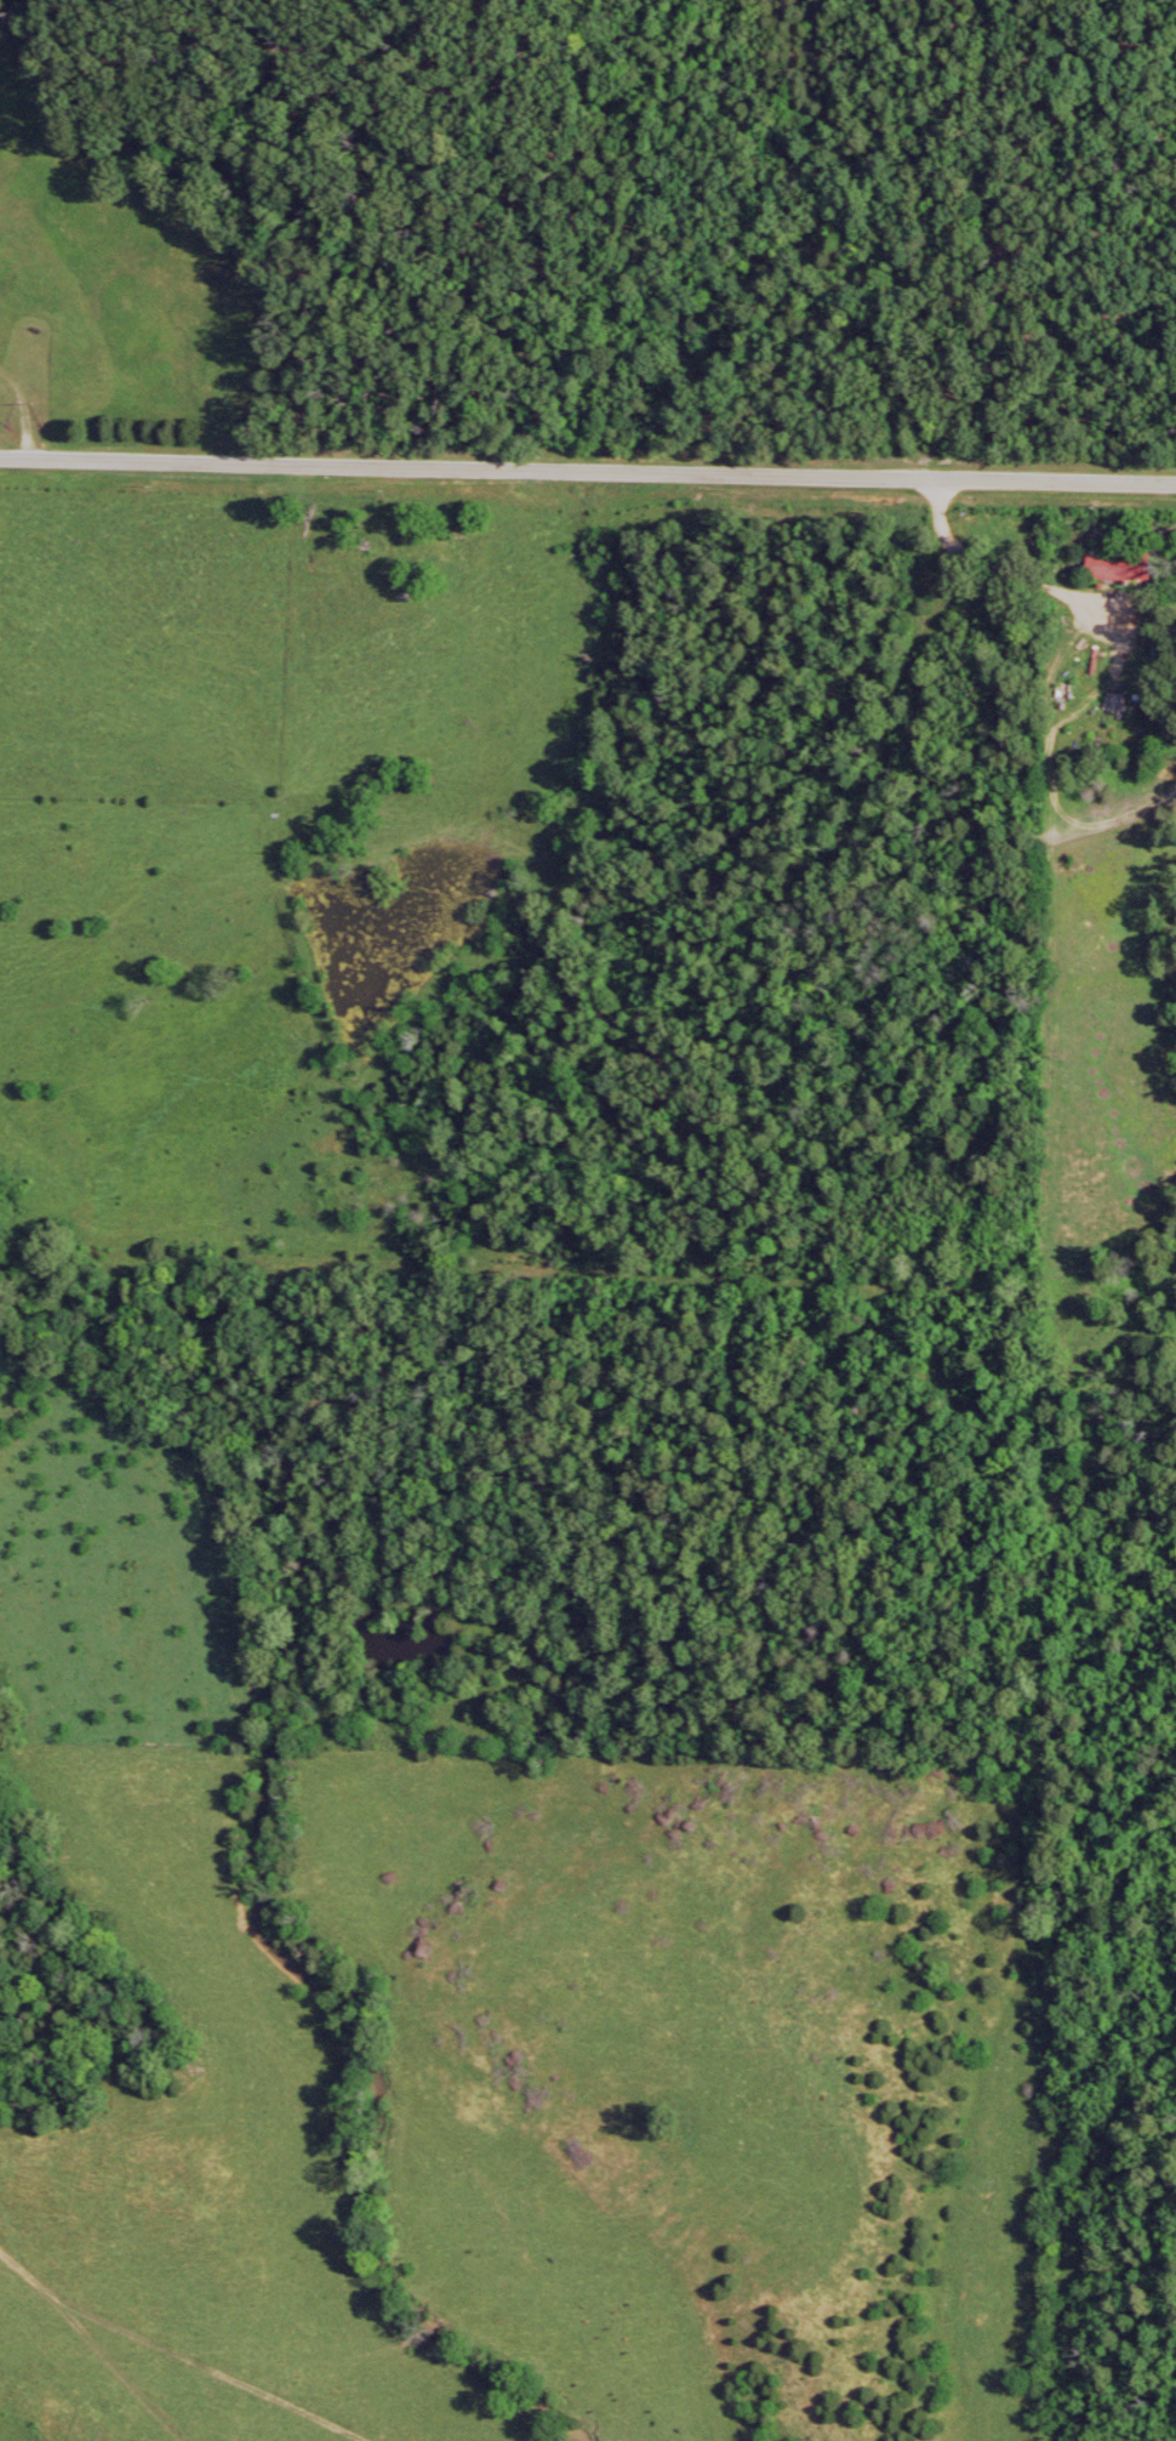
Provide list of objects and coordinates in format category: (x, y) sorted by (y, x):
road: (74, 296)
road: (587, 470)
building: (1117, 571)

